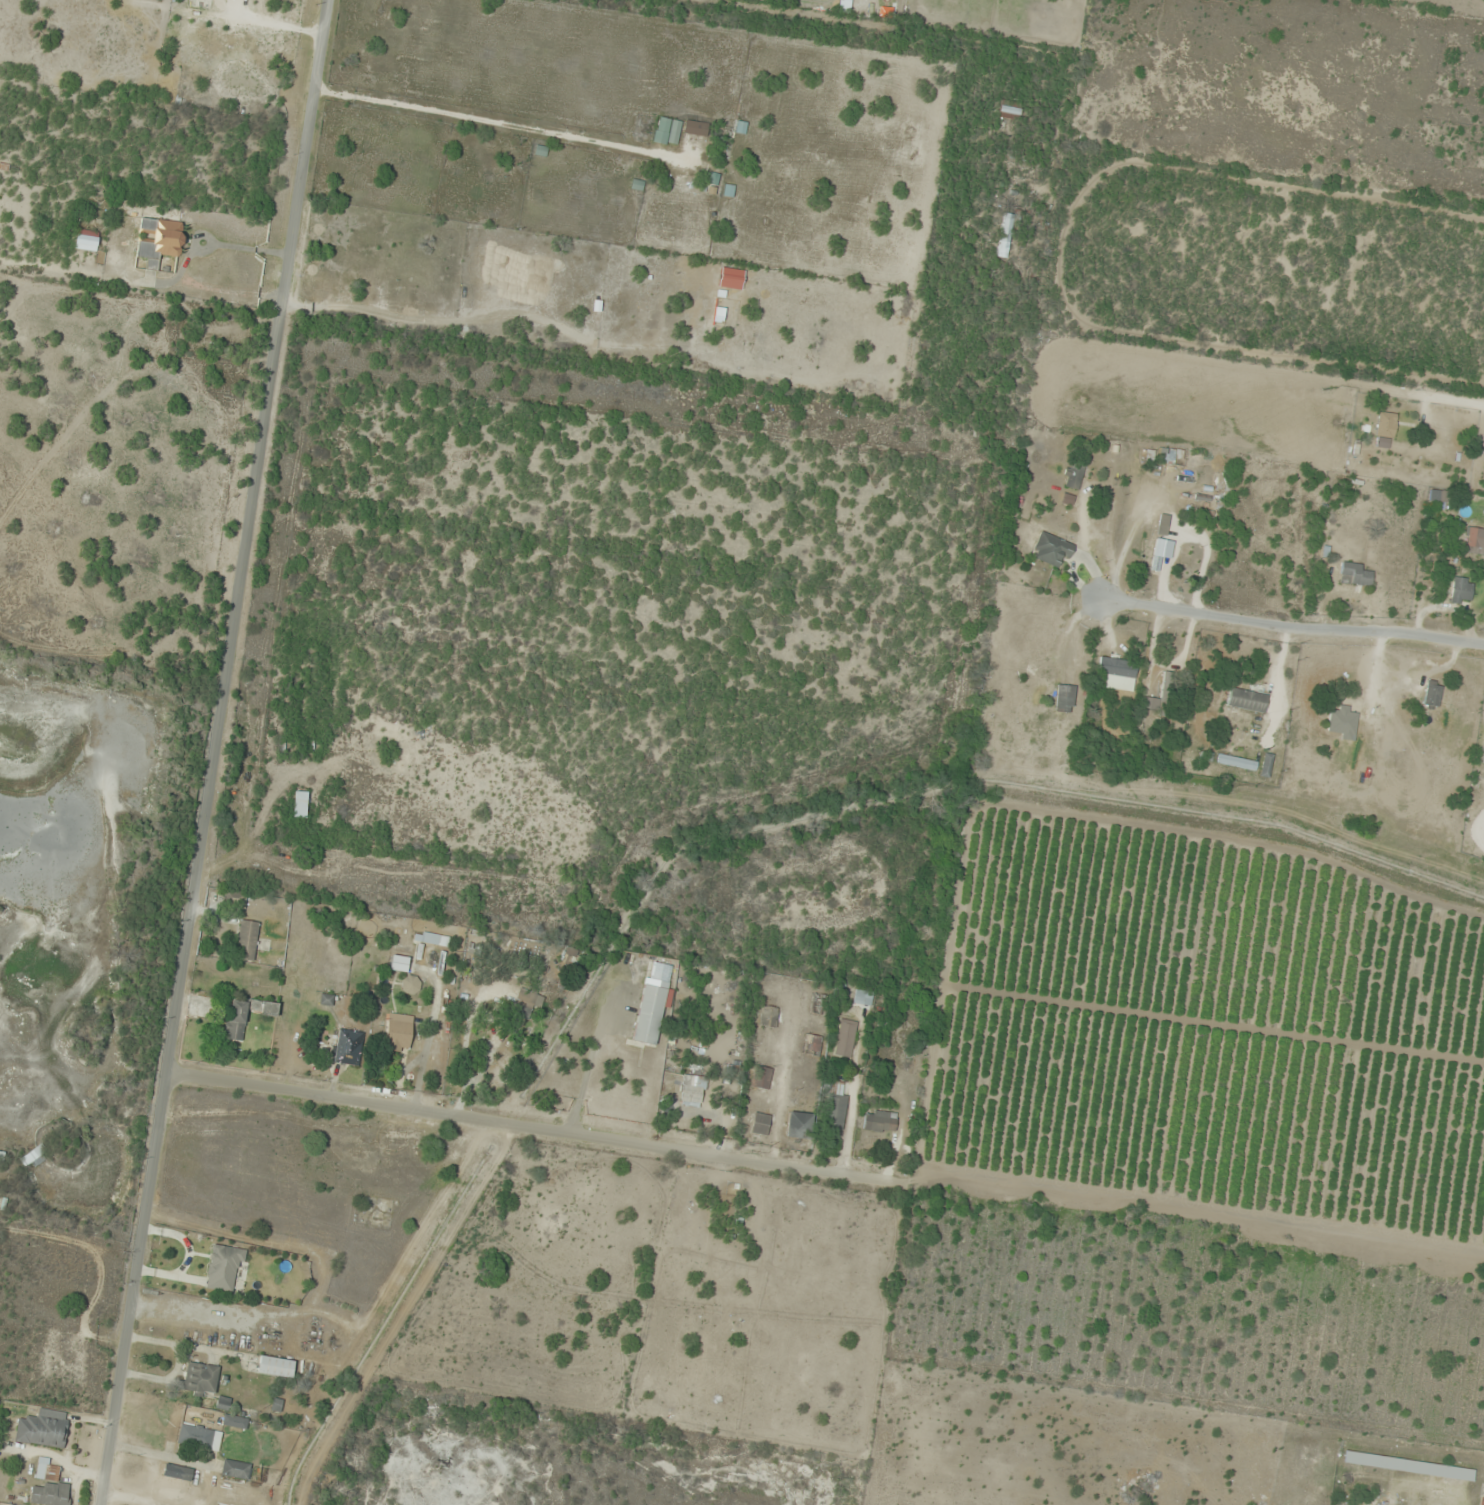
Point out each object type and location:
building: (1009, 113)
building: (696, 126)
building: (670, 129)
road: (1007, 134)
building: (787, 171)
building: (685, 177)
building: (1006, 236)
building: (159, 240)
building: (382, 297)
road: (1374, 386)
building: (1385, 429)
building: (1167, 456)
building: (1073, 475)
building: (1437, 495)
building: (1162, 524)
building: (1469, 536)
building: (1051, 549)
building: (1355, 574)
building: (1227, 585)
building: (1461, 590)
road: (1293, 627)
building: (1118, 673)
building: (1432, 693)
building: (1163, 697)
building: (1065, 698)
building: (1247, 699)
building: (1343, 723)
road: (212, 752)
building: (300, 804)
river: (12, 860)
building: (235, 898)
building: (431, 939)
building: (247, 940)
building: (476, 948)
building: (399, 963)
building: (410, 984)
building: (530, 998)
building: (269, 1013)
building: (649, 1014)
building: (769, 1018)
building: (236, 1020)
building: (399, 1030)
building: (845, 1039)
building: (813, 1045)
building: (348, 1047)
building: (762, 1077)
building: (691, 1098)
building: (836, 1106)
building: (879, 1123)
building: (761, 1124)
building: (799, 1125)
road: (535, 1130)
building: (34, 1157)
building: (223, 1268)
building: (276, 1366)
building: (200, 1378)
building: (235, 1421)
building: (43, 1428)
building: (199, 1437)
building: (1407, 1466)
building: (235, 1469)
building: (173, 1480)
building: (48, 1485)

